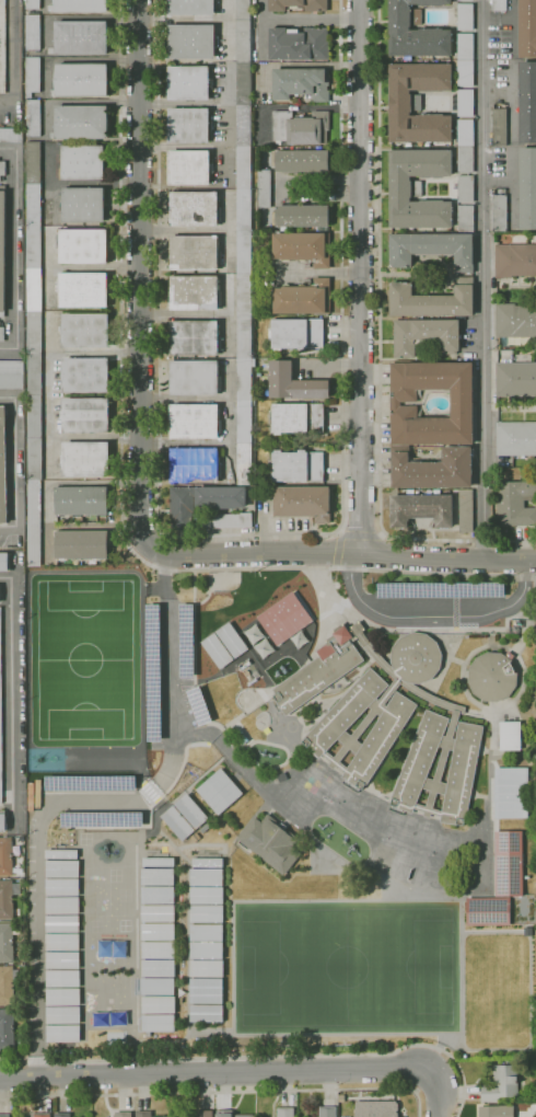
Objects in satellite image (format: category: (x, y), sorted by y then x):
building: (33, 4)
building: (299, 4)
building: (80, 5)
building: (499, 5)
building: (191, 7)
building: (465, 16)
building: (527, 28)
building: (417, 31)
building: (33, 32)
building: (81, 37)
building: (193, 42)
building: (300, 44)
building: (2, 47)
road: (11, 55)
building: (465, 60)
building: (33, 76)
building: (81, 80)
building: (189, 82)
building: (301, 83)
building: (418, 102)
building: (528, 102)
building: (466, 103)
building: (34, 117)
building: (81, 123)
building: (189, 125)
building: (301, 127)
building: (500, 127)
building: (11, 135)
building: (465, 146)
building: (301, 160)
building: (83, 162)
building: (189, 168)
building: (2, 169)
building: (264, 188)
building: (466, 188)
building: (527, 188)
building: (419, 189)
building: (83, 205)
building: (195, 209)
building: (500, 214)
building: (301, 216)
building: (466, 219)
building: (244, 242)
building: (83, 246)
building: (2, 249)
road: (12, 249)
building: (304, 249)
building: (432, 249)
building: (195, 252)
building: (515, 260)
road: (139, 274)
road: (360, 276)
road: (482, 279)
building: (83, 290)
building: (195, 292)
building: (303, 298)
building: (432, 300)
road: (184, 314)
building: (515, 320)
building: (85, 331)
building: (2, 334)
building: (296, 334)
building: (426, 335)
building: (195, 337)
road: (380, 341)
building: (34, 352)
building: (11, 375)
building: (85, 375)
building: (195, 377)
building: (515, 379)
building: (294, 383)
building: (463, 403)
building: (85, 415)
building: (298, 417)
building: (195, 422)
building: (516, 438)
building: (86, 460)
building: (195, 464)
building: (298, 465)
building: (3, 467)
road: (12, 467)
building: (433, 469)
road: (119, 482)
building: (222, 498)
building: (82, 500)
building: (304, 503)
building: (515, 503)
building: (182, 508)
building: (422, 509)
building: (466, 510)
building: (226, 520)
road: (338, 530)
road: (383, 532)
road: (249, 533)
road: (345, 533)
building: (82, 545)
road: (356, 552)
road: (249, 553)
road: (447, 557)
building: (3, 562)
road: (336, 565)
flagpole: (336, 585)
building: (442, 588)
parking lot: (441, 589)
road: (434, 615)
building: (287, 618)
building: (187, 638)
building: (277, 647)
building: (154, 670)
parking lot: (171, 673)
building: (493, 676)
building: (252, 681)
road: (9, 688)
building: (200, 704)
building: (388, 721)
building: (1, 722)
road: (197, 732)
building: (510, 736)
building: (91, 781)
building: (220, 792)
building: (512, 793)
road: (86, 801)
parking lot: (101, 801)
building: (191, 811)
building: (103, 817)
building: (2, 821)
building: (177, 822)
building: (270, 843)
park: (407, 845)
building: (60, 853)
building: (5, 856)
building: (159, 861)
building: (208, 861)
building: (509, 863)
building: (61, 868)
park: (408, 873)
building: (156, 875)
building: (206, 876)
building: (62, 886)
park: (94, 890)
building: (158, 894)
building: (206, 895)
building: (9, 900)
building: (61, 905)
building: (489, 911)
building: (156, 912)
building: (206, 912)
building: (62, 923)
building: (156, 931)
building: (206, 931)
building: (8, 942)
building: (62, 942)
building: (158, 949)
building: (206, 949)
building: (62, 959)
park: (346, 966)
building: (156, 967)
building: (206, 968)
building: (61, 978)
building: (8, 986)
building: (158, 986)
building: (206, 989)
building: (62, 995)
park: (108, 1000)
building: (158, 1004)
building: (206, 1012)
building: (62, 1014)
building: (158, 1022)
building: (7, 1028)
building: (62, 1033)
road: (260, 1057)
road: (240, 1075)
building: (502, 1084)
road: (220, 1092)
building: (376, 1108)
building: (497, 1110)
building: (328, 1112)
building: (287, 1113)
building: (123, 1114)
building: (143, 1114)
building: (205, 1114)
building: (231, 1114)
building: (40, 1115)
building: (62, 1115)
building: (4, 1116)

